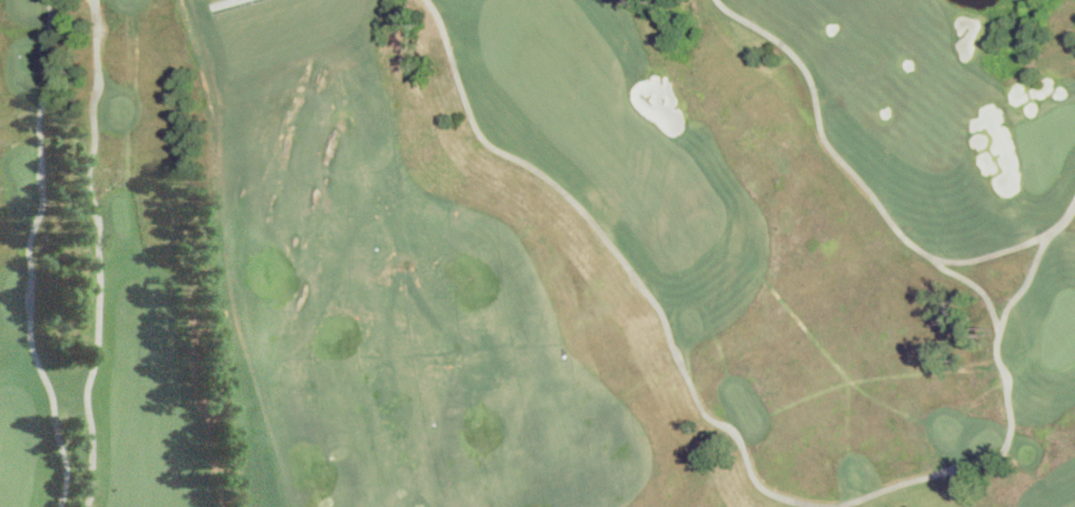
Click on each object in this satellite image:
road: (224, 2)
road: (868, 191)
road: (99, 252)
park: (537, 254)
road: (28, 255)
road: (976, 285)
road: (739, 434)

